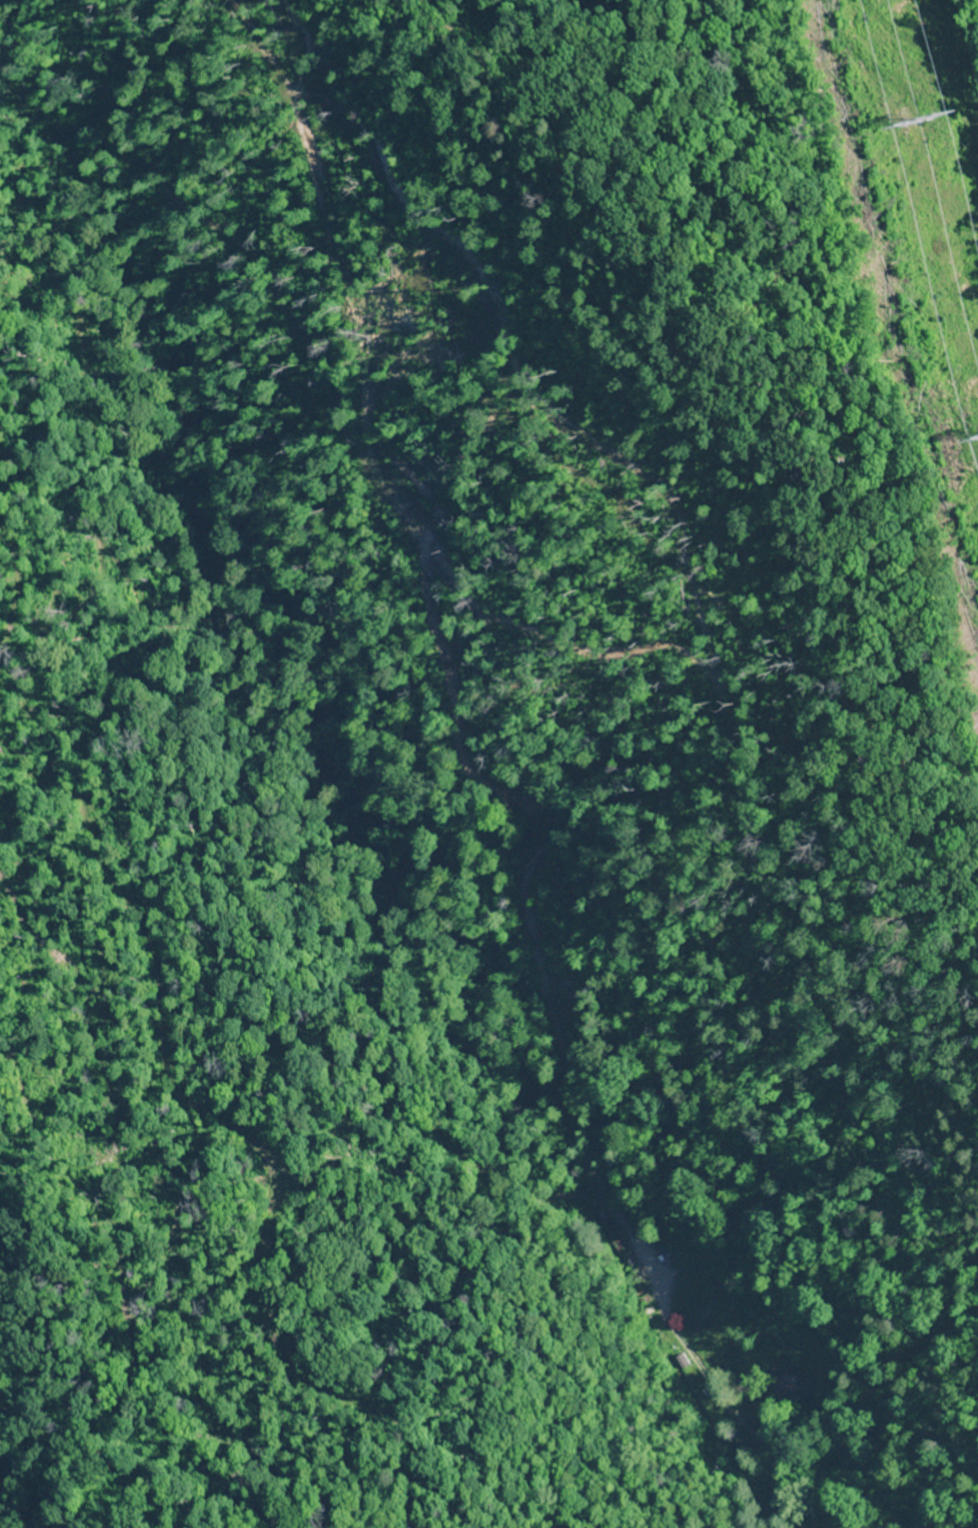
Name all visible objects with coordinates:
power tower: (929, 145)

